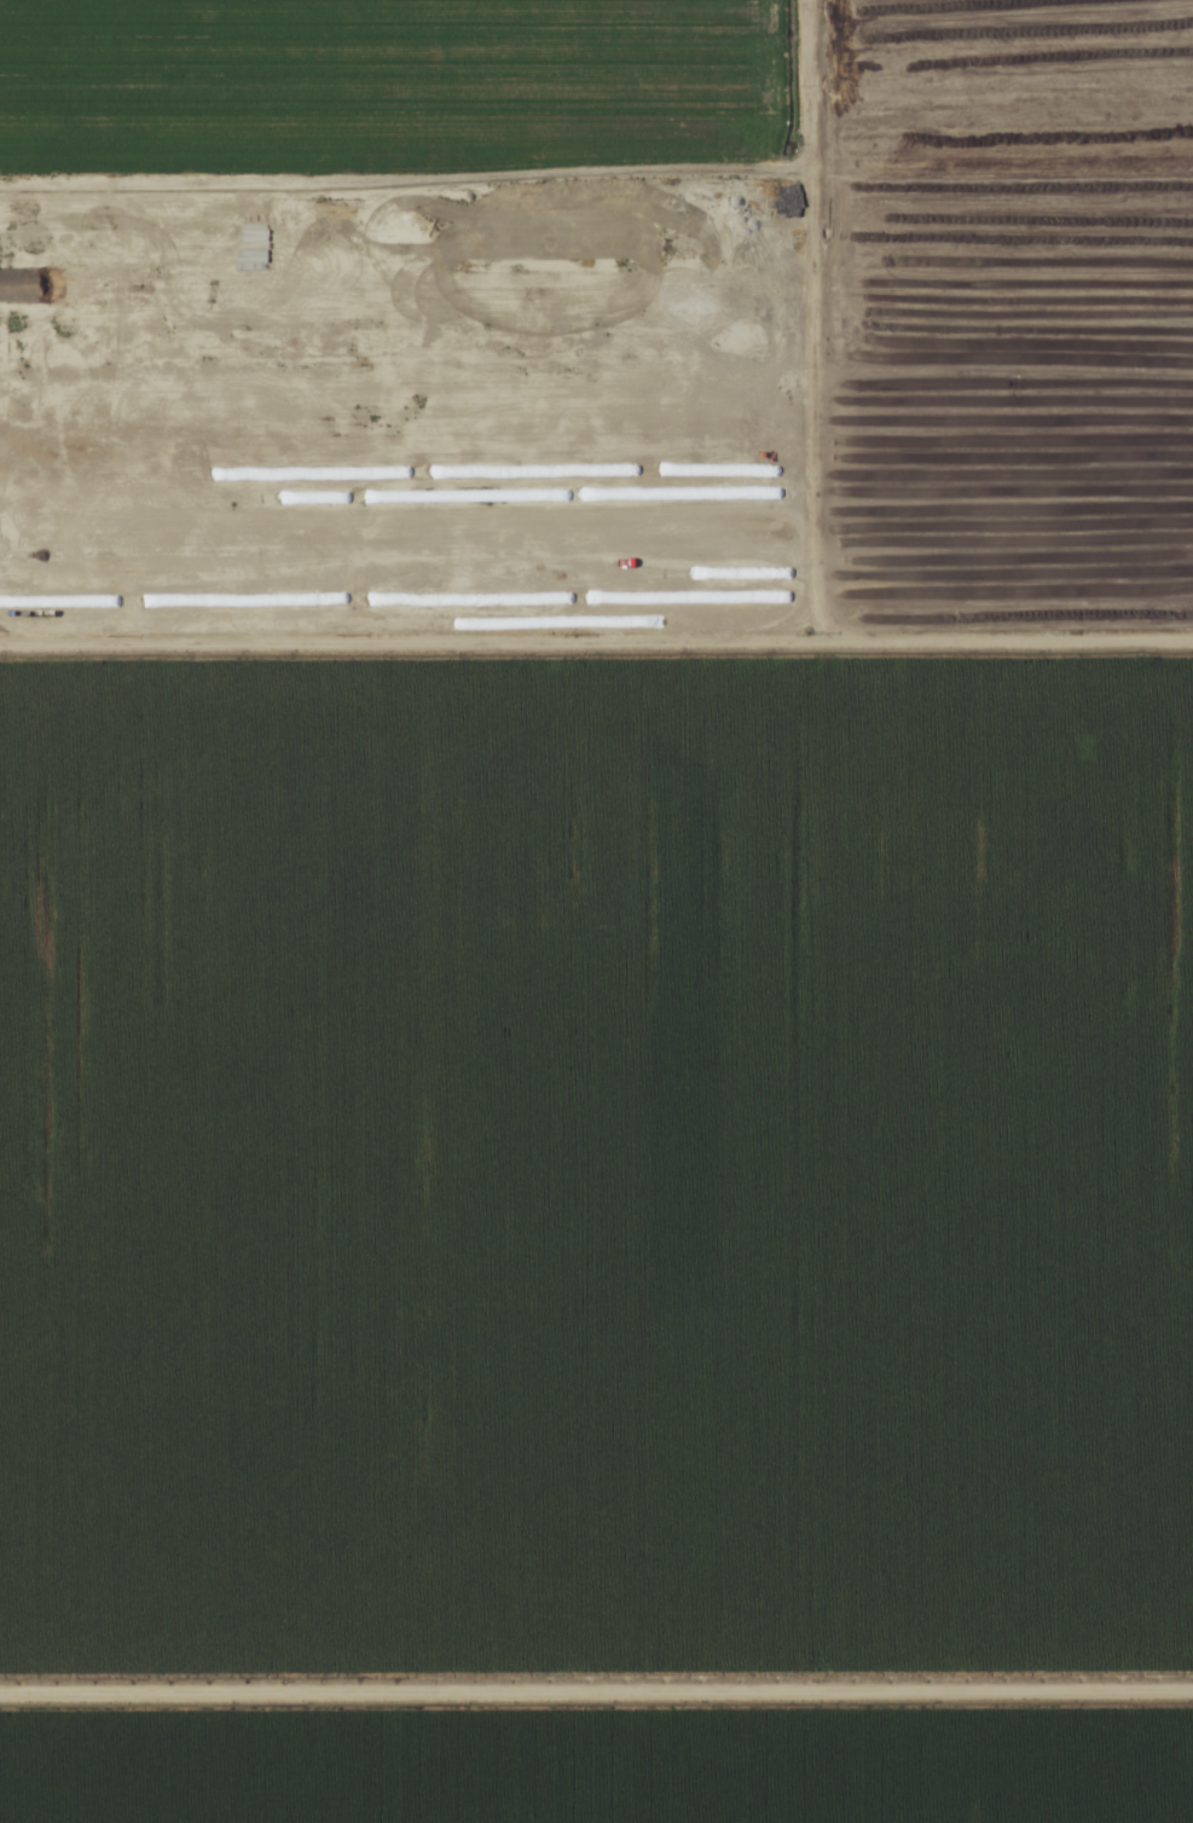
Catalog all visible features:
road: (596, 652)
road: (596, 1689)

